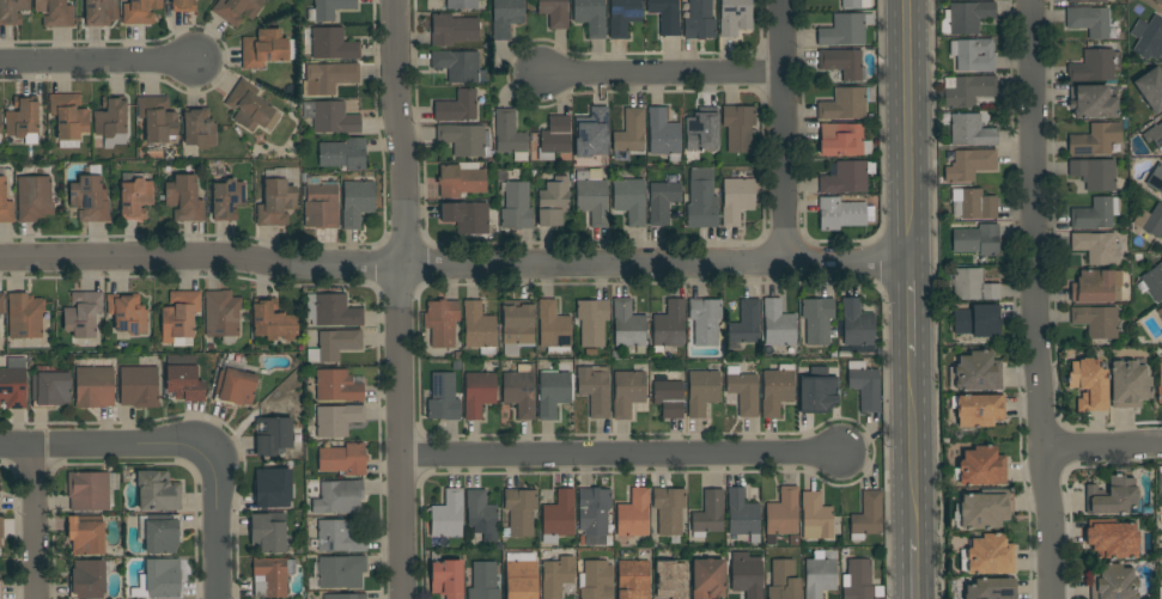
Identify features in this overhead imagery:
building: (1084, 1)
building: (1158, 2)
building: (461, 4)
building: (851, 4)
building: (183, 6)
building: (236, 10)
building: (328, 10)
building: (12, 11)
building: (101, 12)
building: (139, 12)
building: (55, 13)
building: (554, 13)
building: (665, 16)
building: (506, 17)
building: (590, 17)
building: (622, 17)
building: (735, 17)
building: (966, 18)
building: (699, 20)
building: (1089, 22)
building: (454, 30)
building: (845, 30)
building: (1149, 31)
building: (329, 44)
building: (263, 48)
building: (973, 55)
building: (842, 62)
road: (98, 63)
building: (457, 66)
building: (1095, 66)
road: (659, 73)
building: (331, 78)
building: (1151, 88)
building: (969, 91)
building: (1093, 102)
building: (846, 103)
building: (457, 106)
building: (250, 108)
building: (68, 116)
building: (110, 117)
building: (330, 117)
building: (157, 118)
building: (23, 120)
building: (0, 126)
building: (199, 128)
building: (738, 128)
road: (781, 130)
building: (631, 132)
road: (912, 132)
building: (971, 132)
building: (592, 133)
building: (701, 133)
road: (400, 134)
building: (510, 135)
building: (664, 135)
building: (1154, 135)
building: (554, 137)
building: (463, 139)
building: (840, 140)
building: (1095, 140)
building: (343, 154)
building: (969, 165)
building: (1094, 173)
building: (846, 177)
building: (1155, 179)
building: (461, 181)
building: (591, 196)
building: (90, 197)
building: (737, 197)
building: (34, 198)
building: (135, 198)
building: (184, 198)
building: (227, 200)
building: (629, 200)
building: (701, 200)
building: (662, 201)
building: (553, 202)
building: (275, 203)
building: (320, 203)
building: (357, 203)
building: (5, 204)
building: (973, 204)
building: (516, 206)
building: (842, 213)
building: (1095, 214)
building: (466, 216)
building: (1150, 221)
building: (977, 240)
building: (1097, 247)
road: (456, 267)
building: (1152, 282)
building: (969, 285)
building: (1095, 287)
road: (933, 299)
road: (1015, 299)
road: (1034, 299)
building: (1, 302)
road: (914, 310)
building: (331, 311)
building: (127, 312)
building: (1160, 312)
building: (83, 313)
building: (221, 313)
building: (24, 316)
building: (178, 316)
building: (273, 320)
building: (705, 320)
building: (817, 320)
building: (978, 320)
building: (1096, 320)
building: (442, 322)
building: (592, 322)
building: (746, 323)
building: (778, 324)
building: (857, 324)
building: (627, 325)
building: (668, 326)
building: (479, 328)
building: (517, 328)
building: (553, 329)
building: (334, 346)
building: (978, 372)
building: (183, 378)
building: (1160, 383)
building: (13, 384)
building: (235, 384)
building: (1088, 384)
building: (1128, 384)
building: (864, 385)
building: (93, 386)
building: (138, 386)
building: (336, 386)
building: (49, 387)
building: (595, 389)
building: (775, 390)
building: (519, 391)
building: (701, 391)
building: (742, 391)
building: (553, 392)
building: (627, 392)
building: (477, 393)
building: (817, 393)
building: (443, 397)
building: (668, 398)
building: (977, 410)
building: (337, 420)
road: (397, 433)
building: (276, 436)
road: (116, 445)
road: (917, 447)
road: (1102, 447)
road: (621, 454)
building: (343, 459)
building: (980, 467)
building: (1160, 484)
building: (274, 488)
building: (87, 490)
building: (157, 491)
building: (1112, 496)
building: (339, 497)
building: (669, 509)
building: (985, 509)
building: (519, 512)
building: (481, 514)
building: (633, 514)
building: (708, 514)
building: (594, 515)
building: (742, 515)
building: (781, 515)
building: (558, 517)
building: (815, 517)
building: (866, 517)
building: (446, 519)
road: (31, 522)
building: (1, 527)
building: (269, 532)
building: (159, 533)
building: (86, 534)
building: (0, 537)
building: (339, 537)
road: (215, 538)
building: (1111, 538)
road: (1070, 539)
building: (988, 556)
road: (918, 568)
building: (341, 572)
building: (820, 574)
building: (556, 575)
building: (270, 576)
building: (446, 577)
building: (521, 577)
building: (671, 577)
building: (747, 577)
building: (160, 579)
building: (707, 579)
building: (87, 580)
building: (596, 580)
building: (633, 580)
building: (483, 581)
building: (784, 581)
building: (859, 581)
building: (1113, 582)
building: (0, 589)
building: (990, 589)
building: (345, 597)

